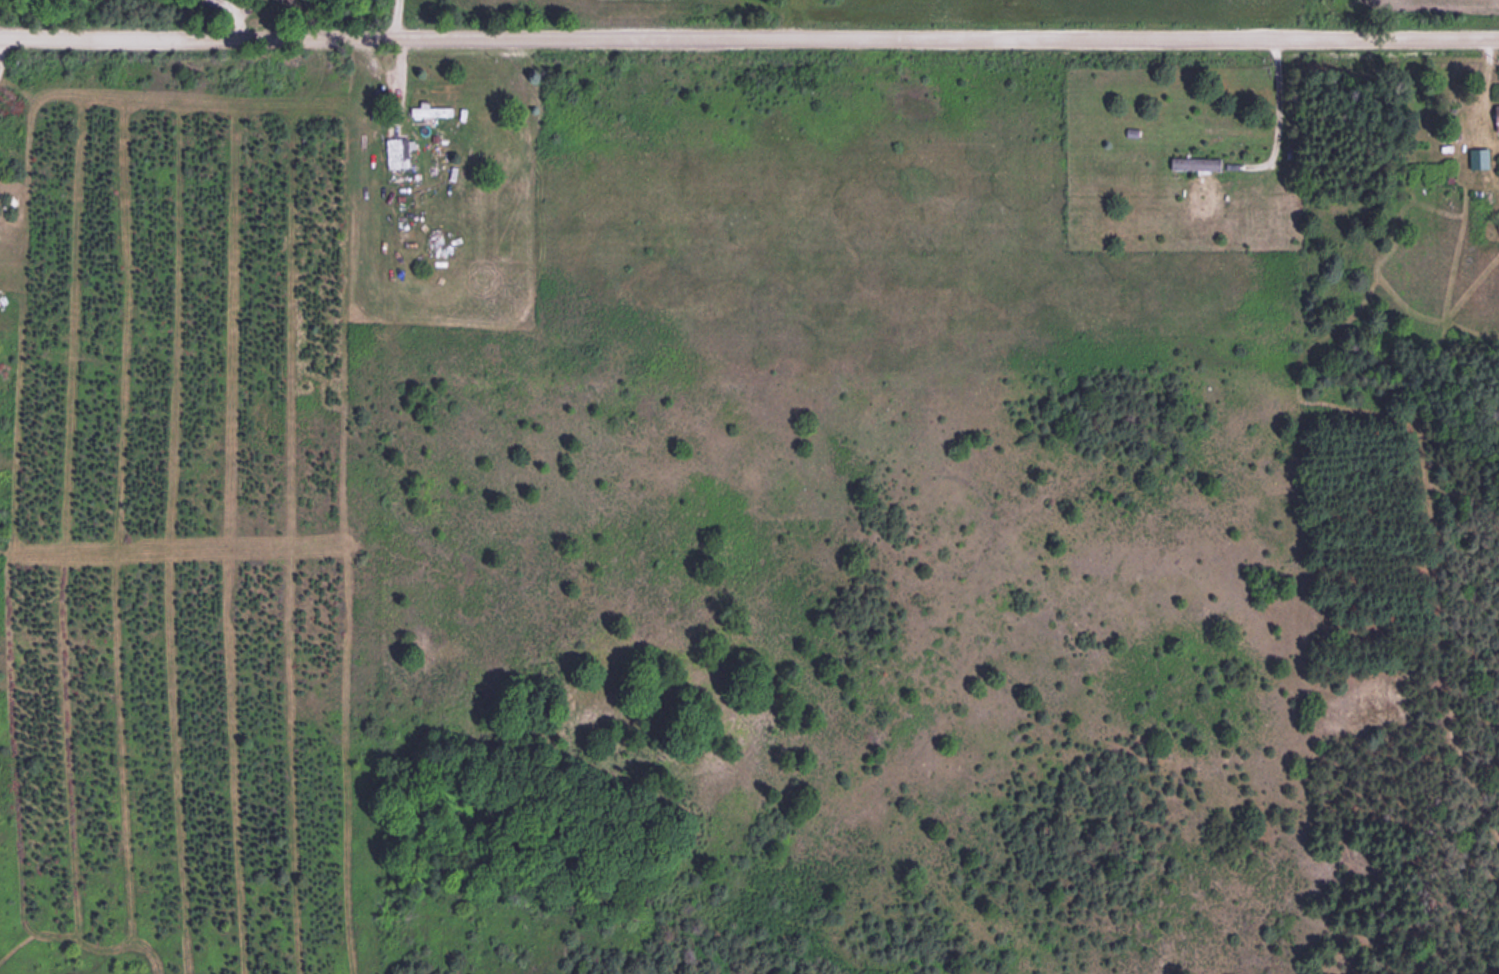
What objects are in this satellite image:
road: (749, 39)
building: (433, 112)
building: (1494, 116)
building: (398, 148)
building: (1477, 157)
building: (1193, 163)

